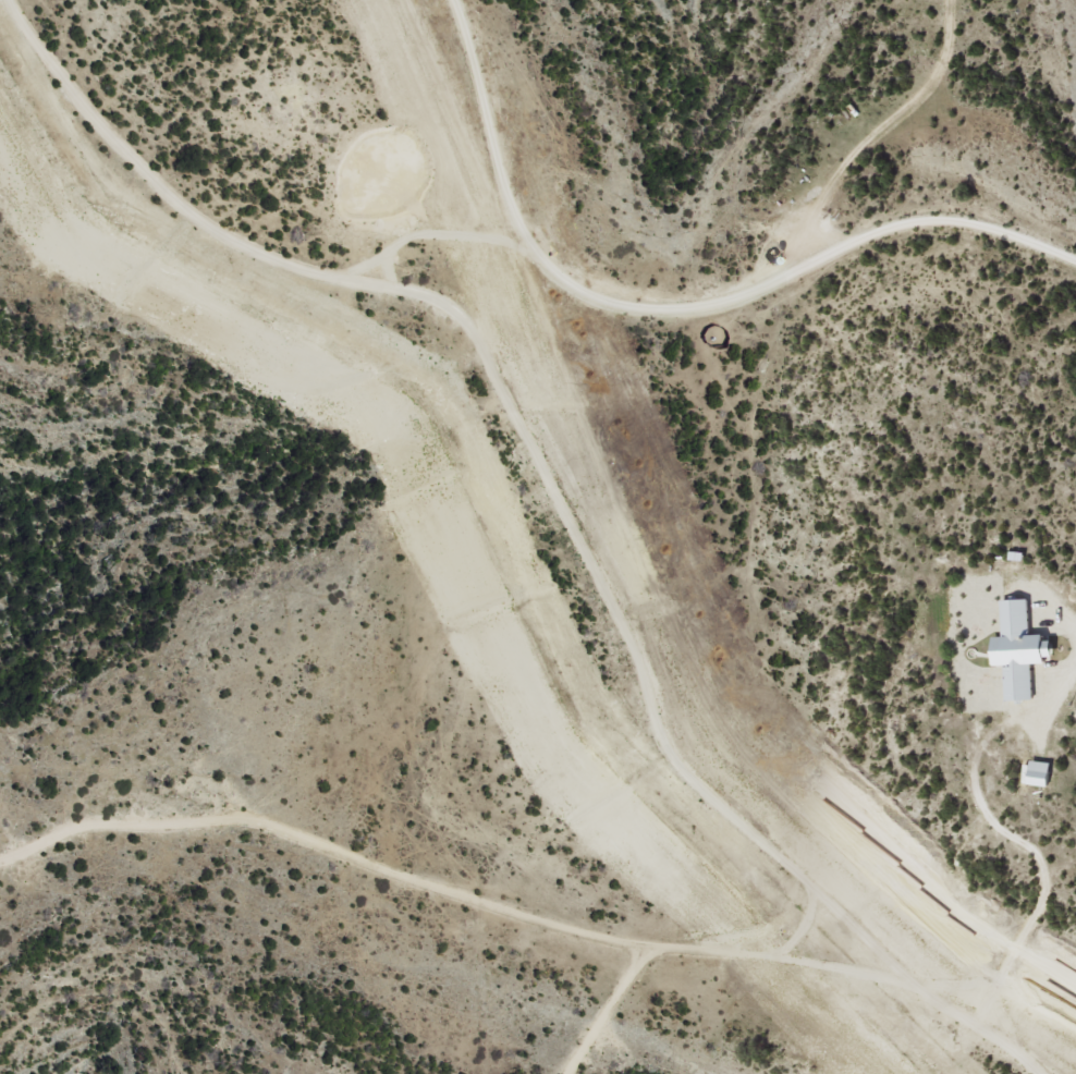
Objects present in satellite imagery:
road: (567, 502)
building: (1020, 654)

